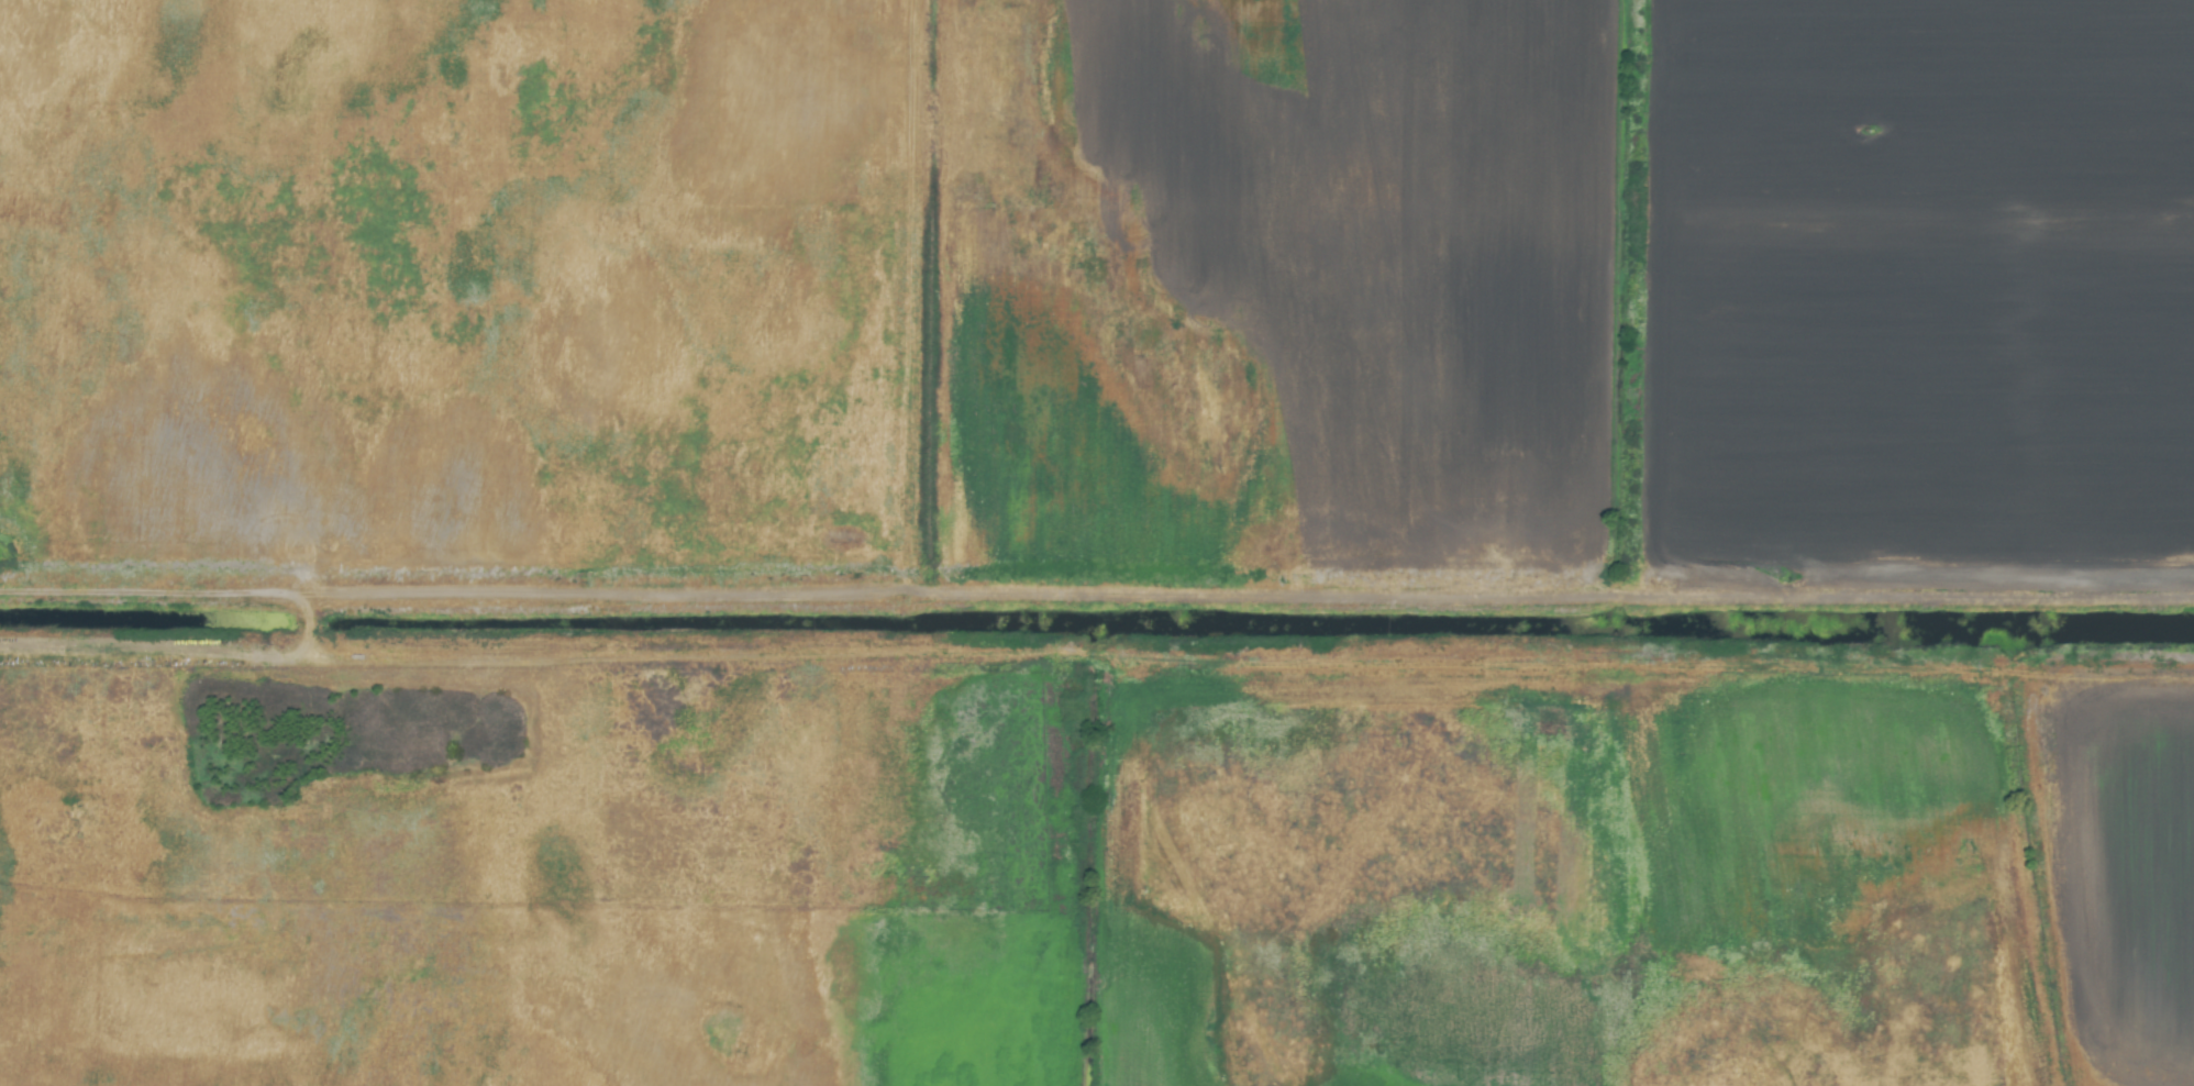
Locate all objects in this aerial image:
crop: (1097, 543)
road: (1096, 608)
road: (1097, 651)

